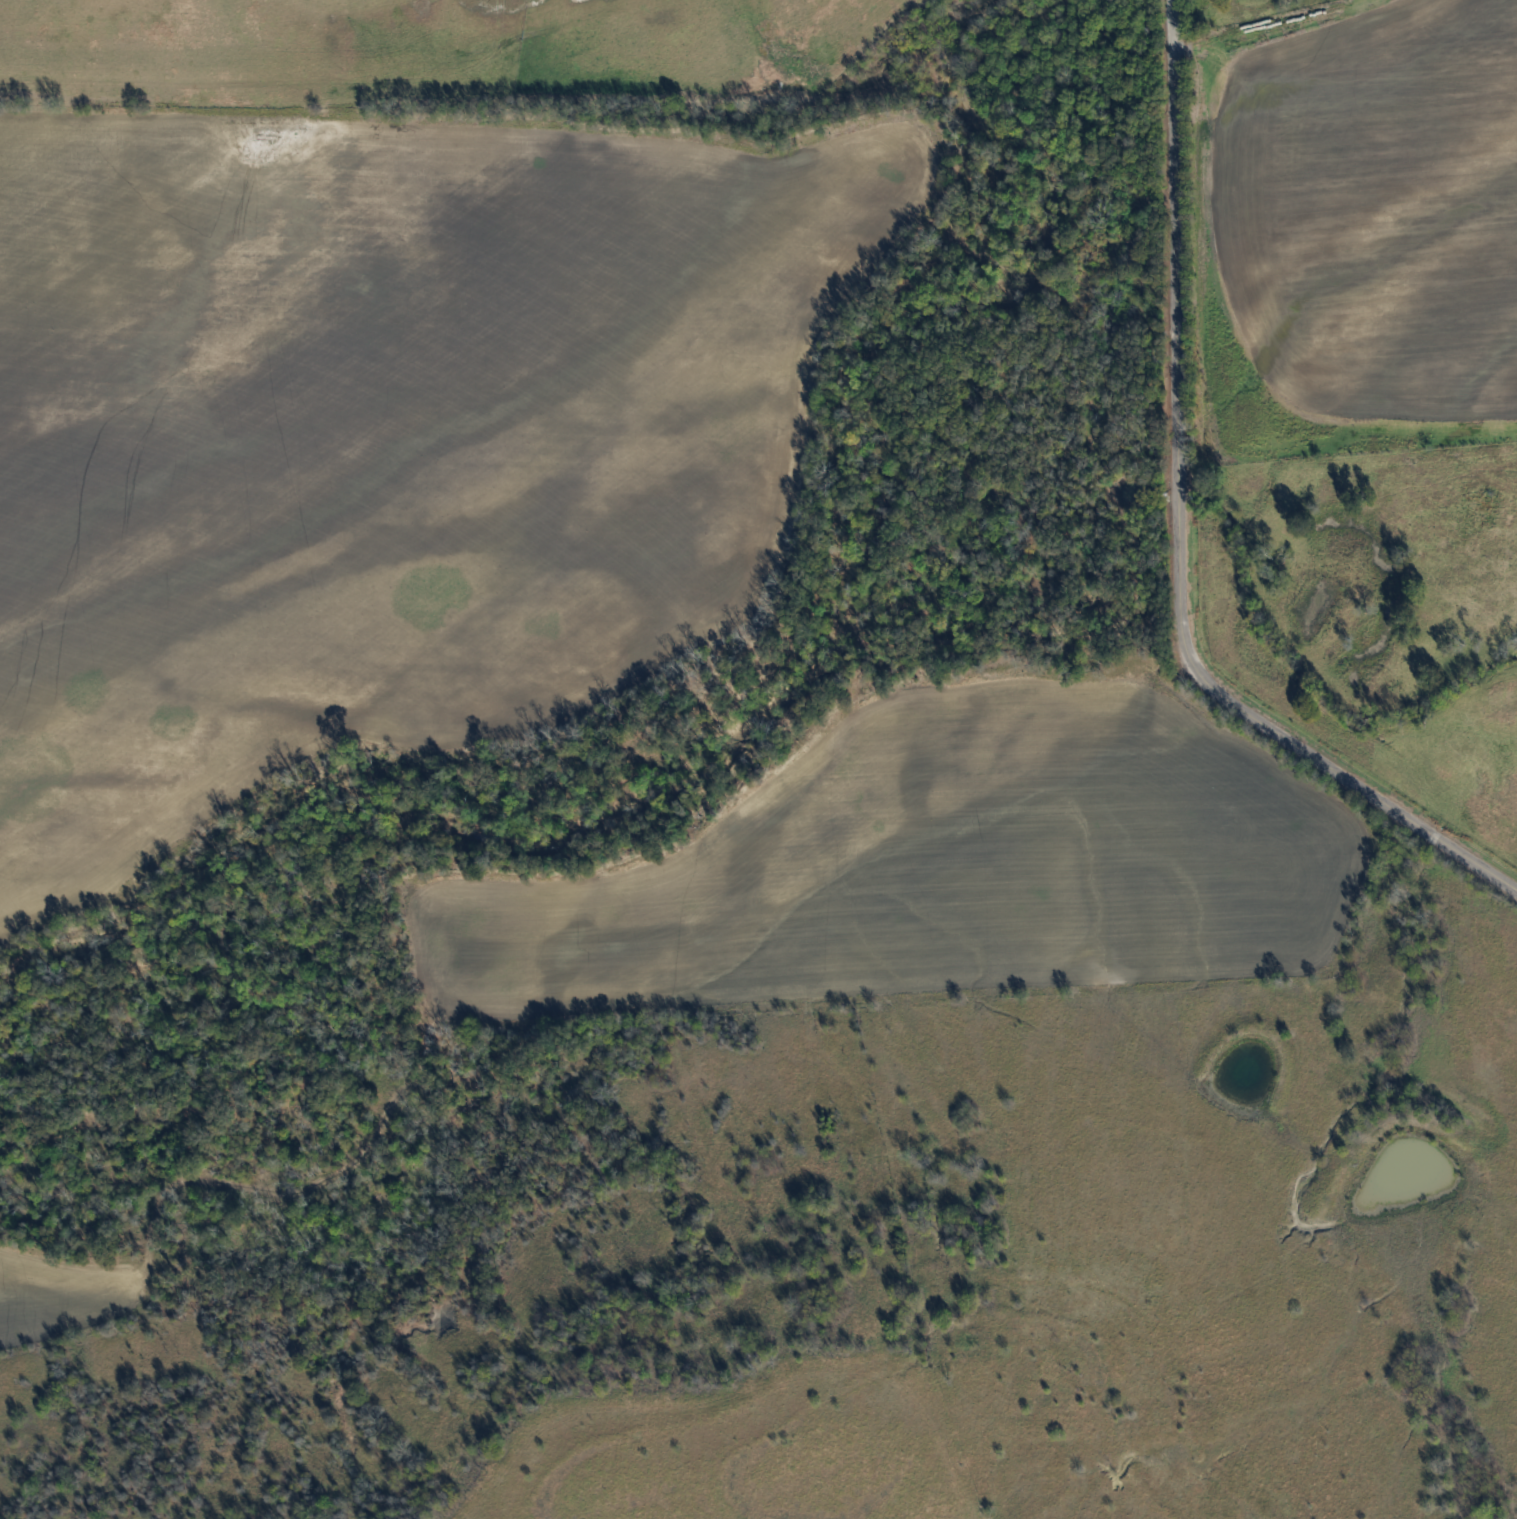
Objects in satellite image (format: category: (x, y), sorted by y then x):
road: (1186, 531)

